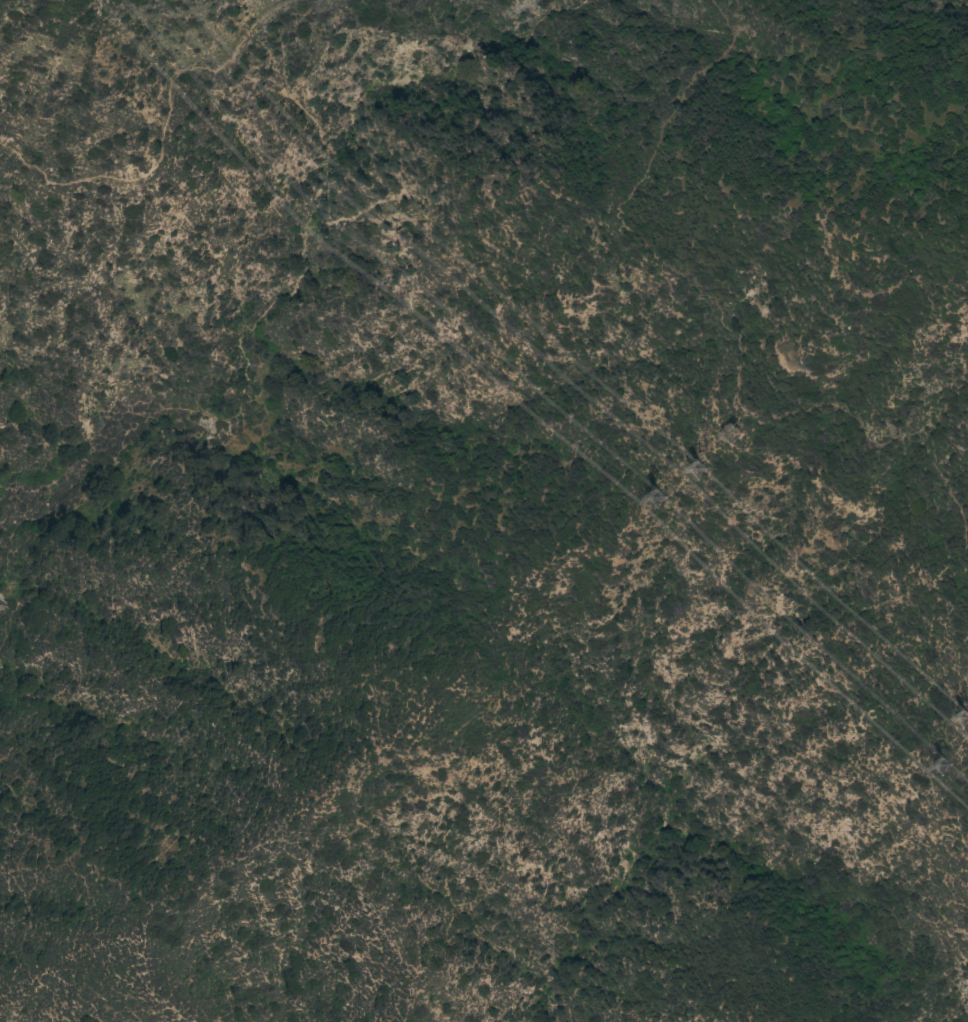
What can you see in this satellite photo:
road: (180, 135)
road: (732, 303)
power tower: (735, 435)
power tower: (690, 475)
power tower: (656, 504)
dam: (1, 598)
power tower: (955, 722)
power tower: (944, 773)

